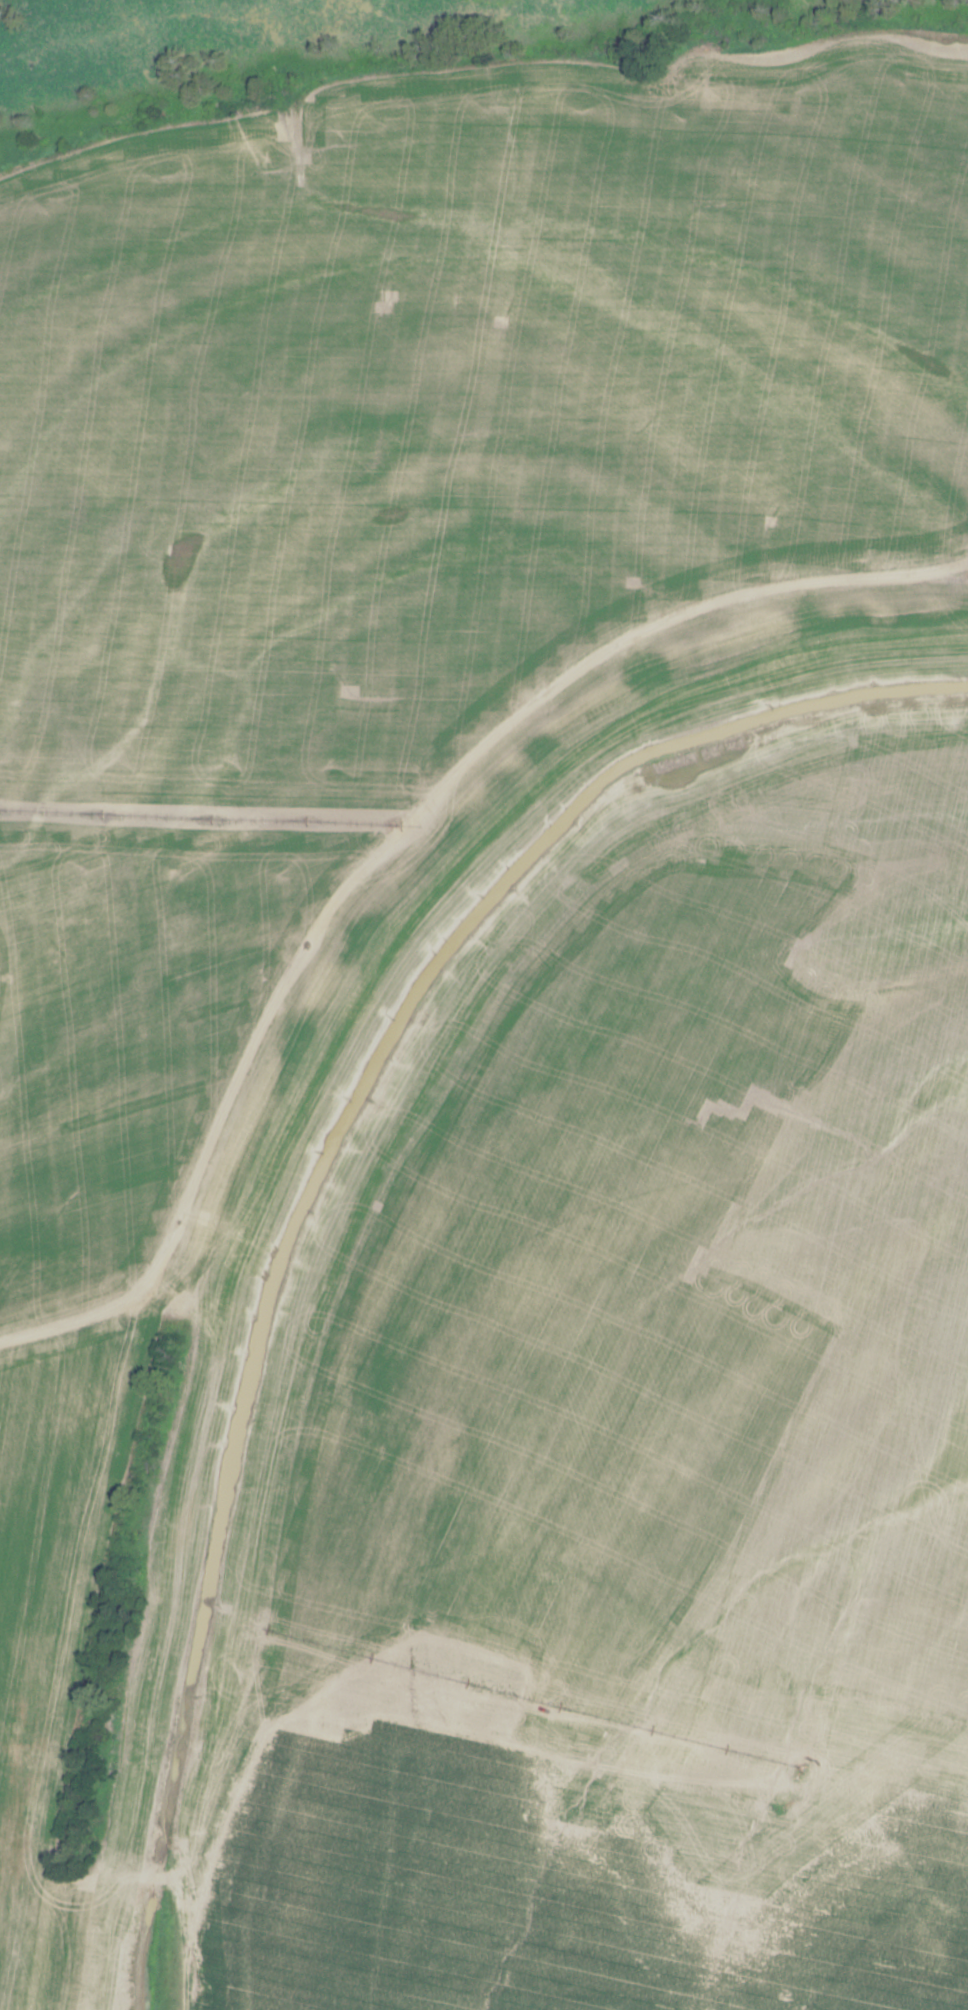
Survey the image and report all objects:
road: (385, 838)
road: (26, 1894)

